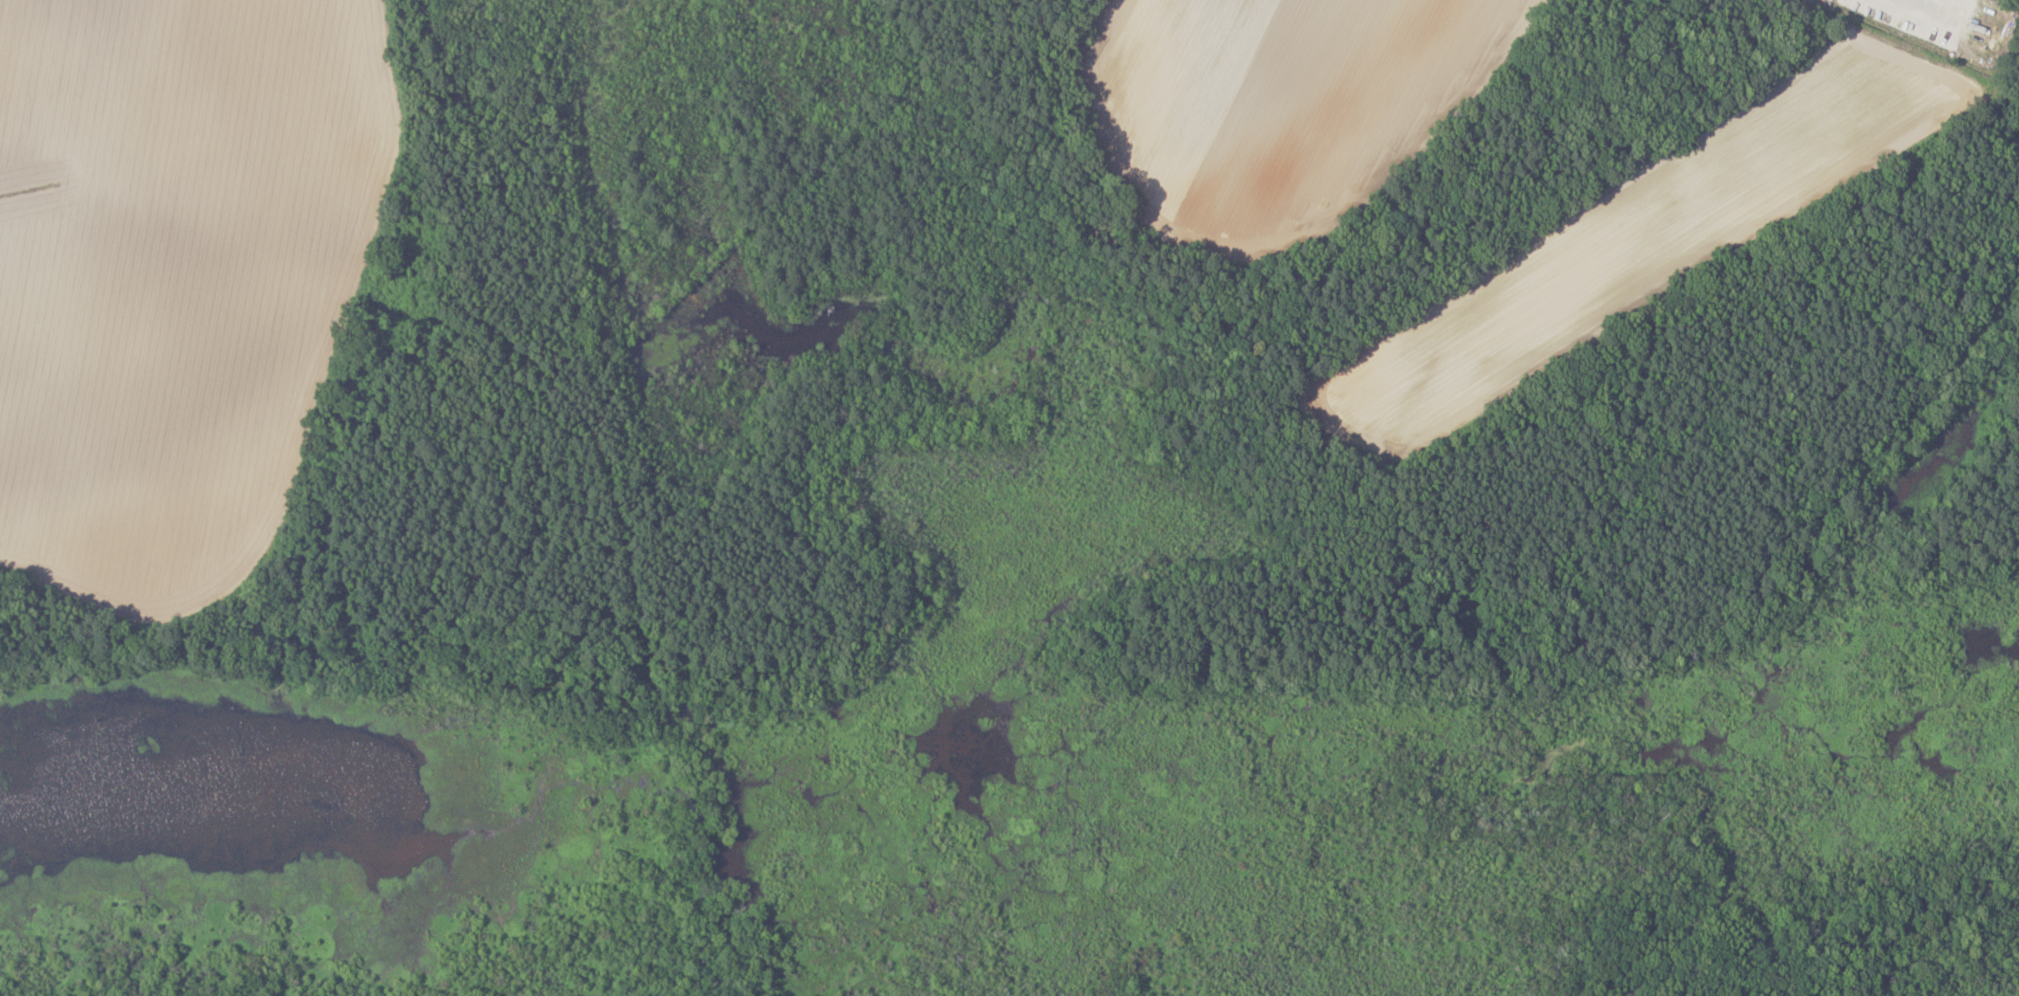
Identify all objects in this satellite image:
road: (1924, 6)

